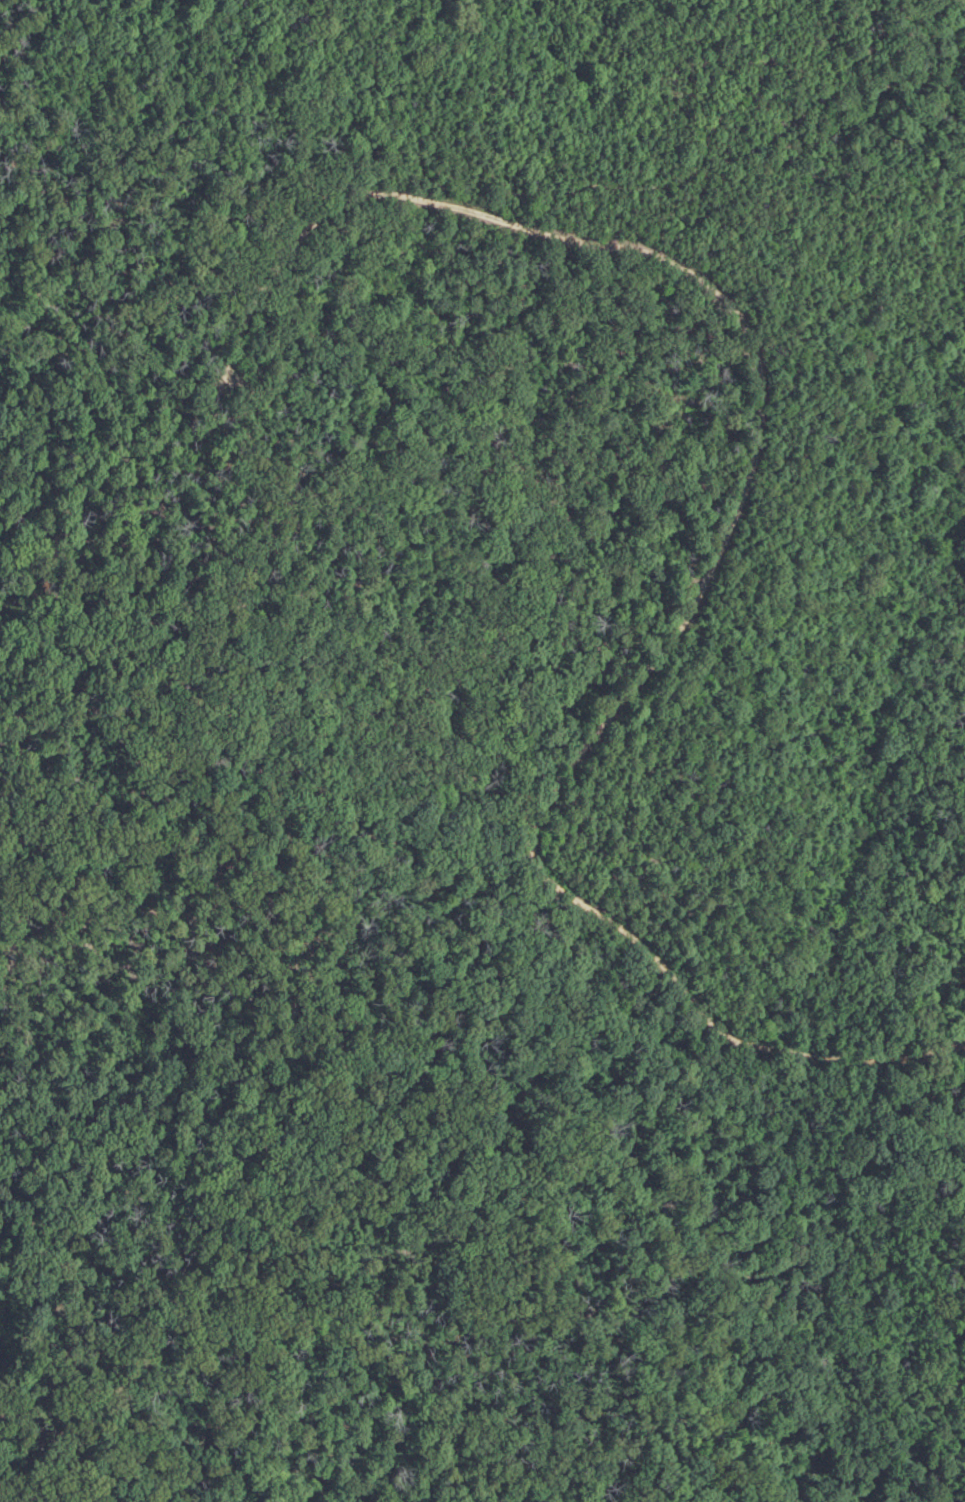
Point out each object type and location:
road: (723, 534)

